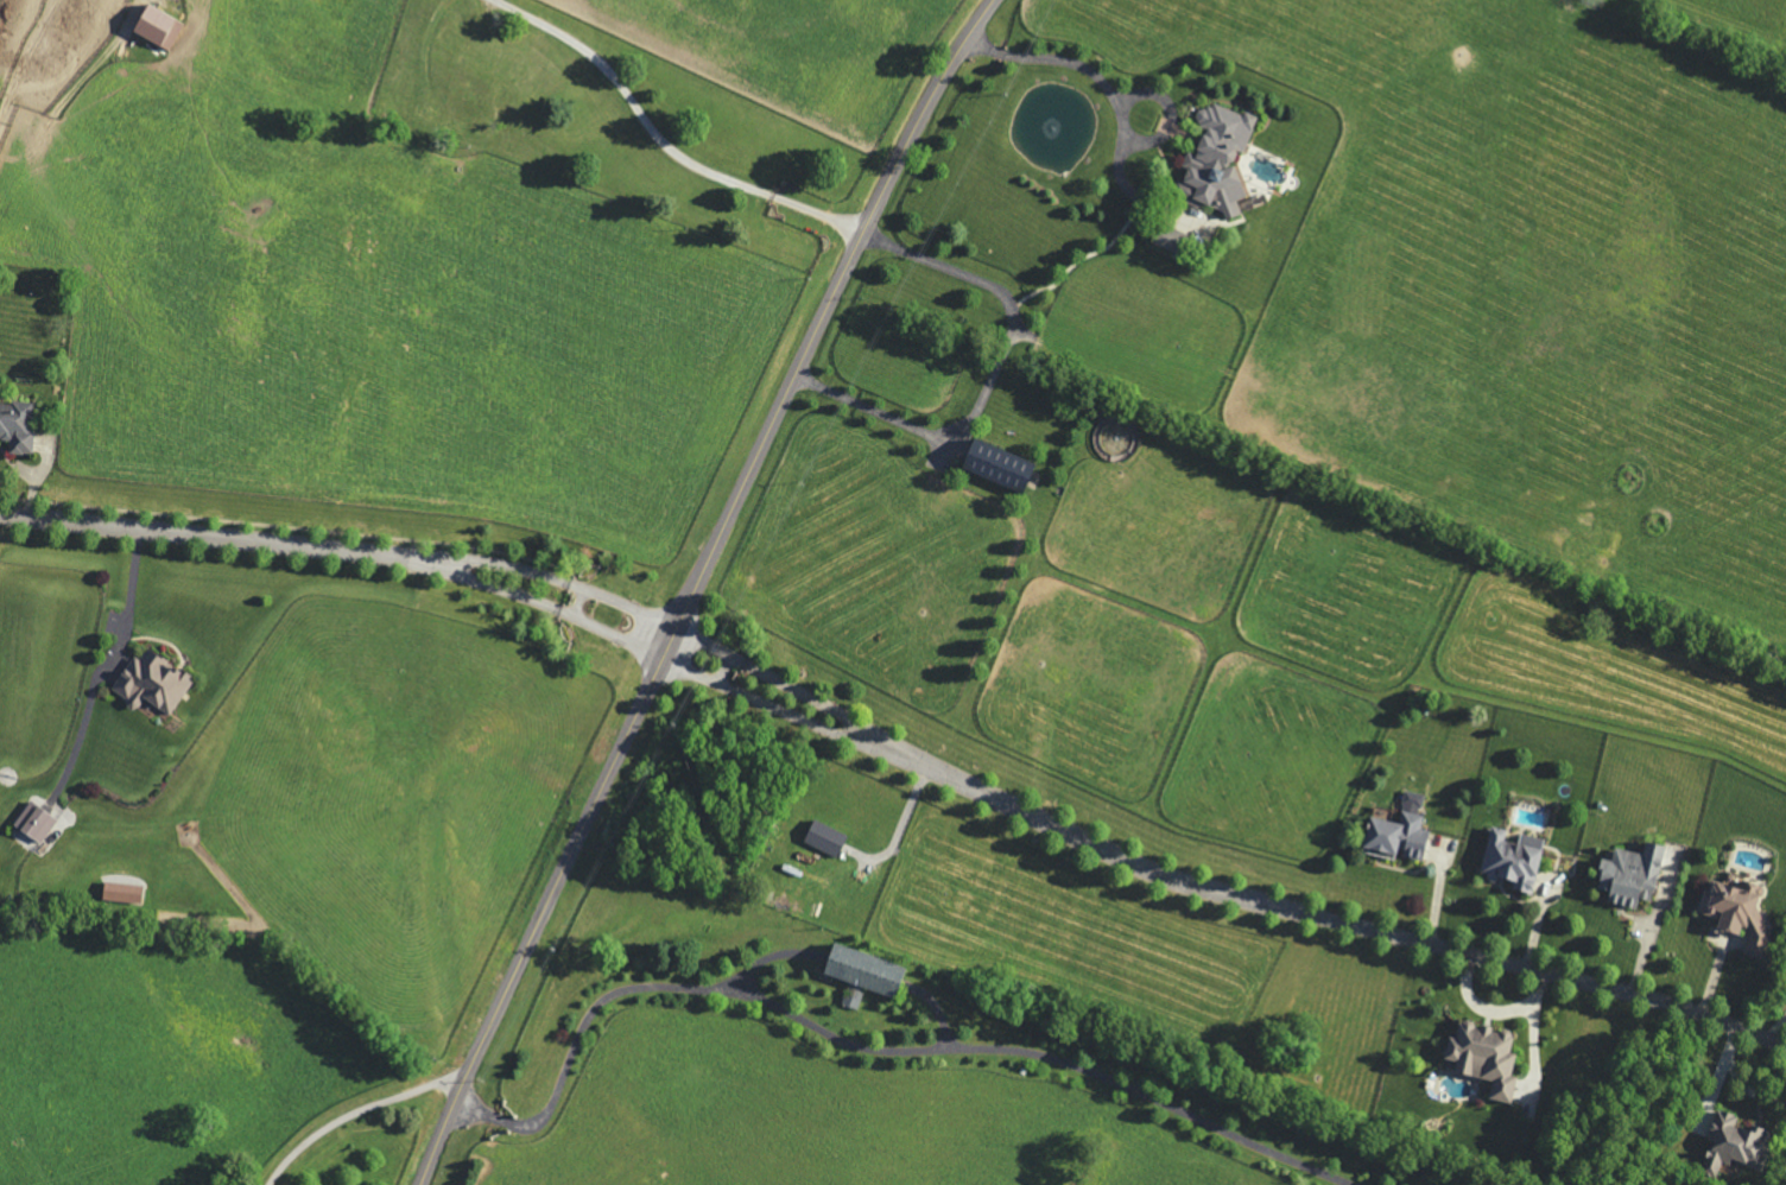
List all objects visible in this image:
building: (163, 30)
road: (1083, 68)
road: (672, 140)
building: (1222, 161)
building: (1174, 240)
road: (990, 378)
building: (20, 426)
building: (1005, 465)
road: (203, 537)
road: (546, 575)
road: (696, 585)
road: (131, 589)
road: (537, 601)
road: (578, 601)
road: (724, 668)
building: (157, 683)
road: (804, 695)
road: (794, 716)
building: (39, 823)
building: (1405, 834)
building: (830, 839)
building: (1518, 861)
building: (1636, 876)
road: (1440, 886)
building: (126, 894)
building: (1743, 913)
road: (1351, 924)
building: (869, 975)
road: (885, 1039)
building: (1490, 1059)
road: (357, 1113)
building: (1744, 1143)

